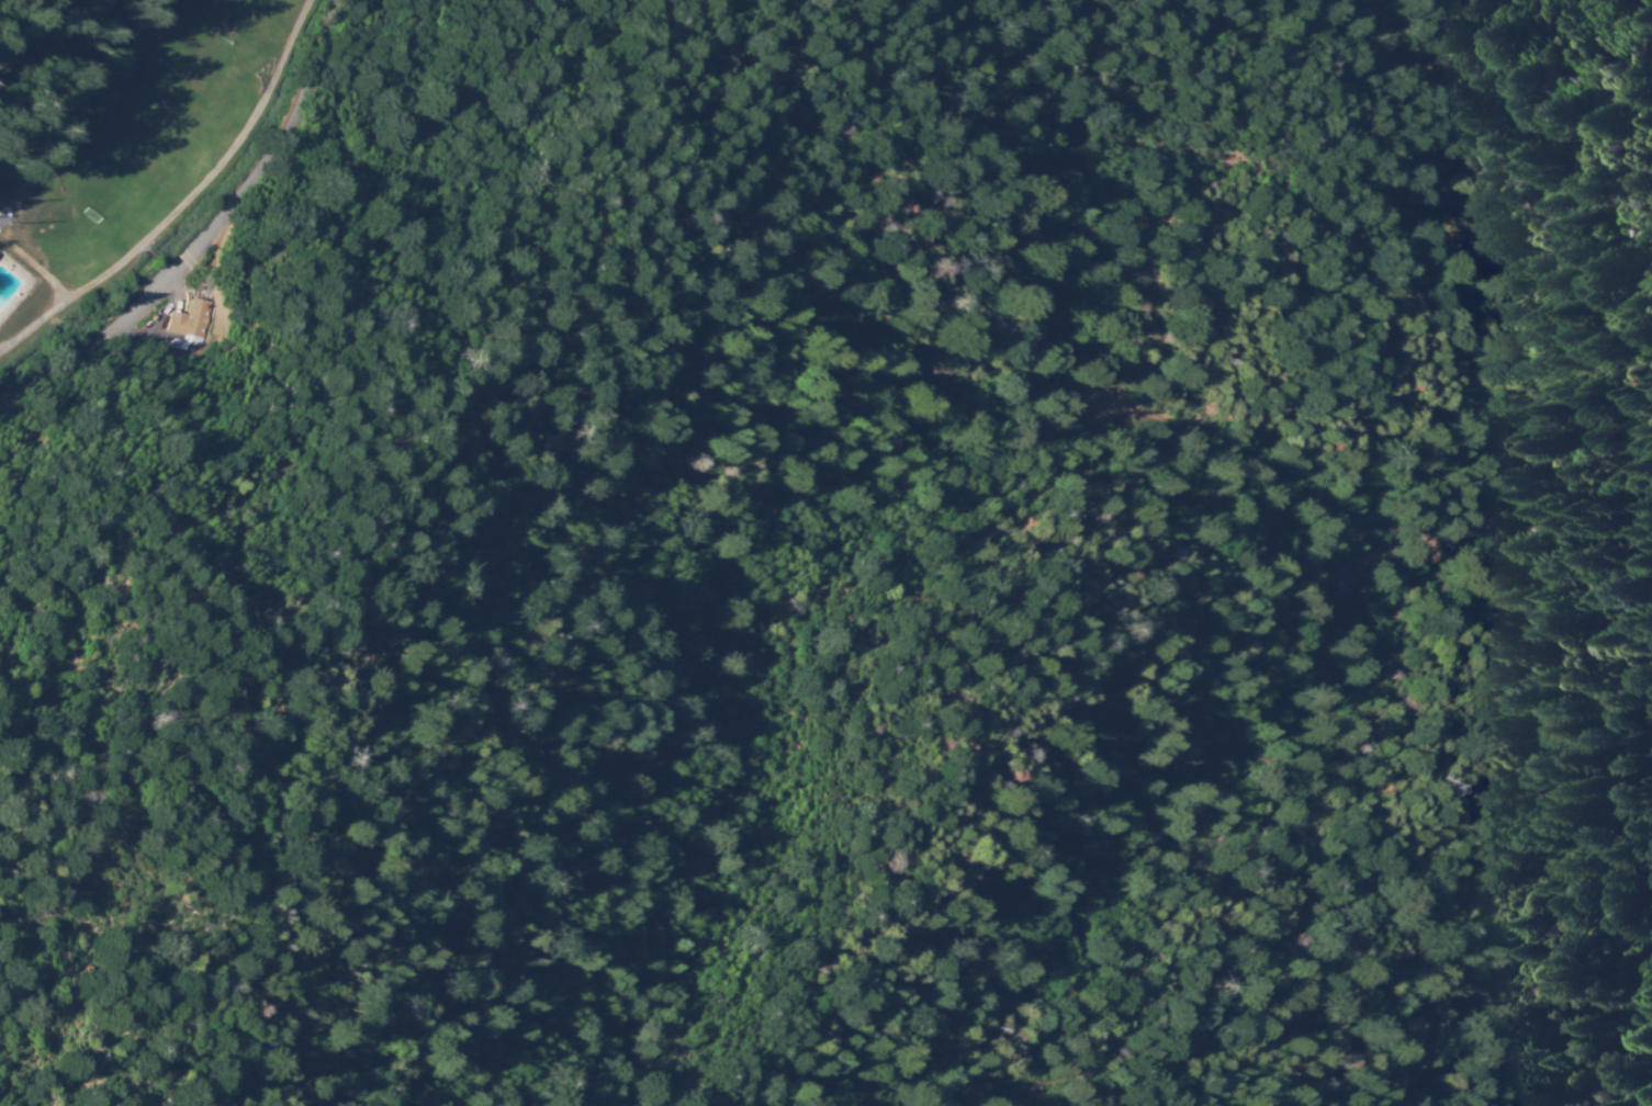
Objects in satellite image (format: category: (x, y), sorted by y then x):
road: (57, 23)
road: (131, 27)
road: (86, 123)
park: (139, 128)
park: (147, 136)
road: (248, 182)
road: (184, 200)
road: (34, 268)
building: (193, 320)
road: (58, 379)
building: (1362, 577)

